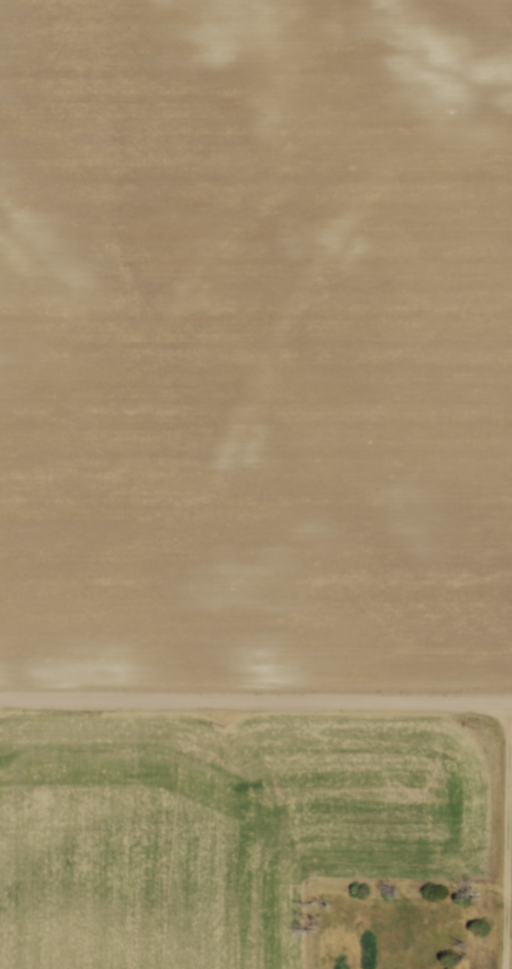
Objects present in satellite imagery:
crop: (256, 338)
road: (256, 700)
crop: (219, 831)
road: (507, 835)

